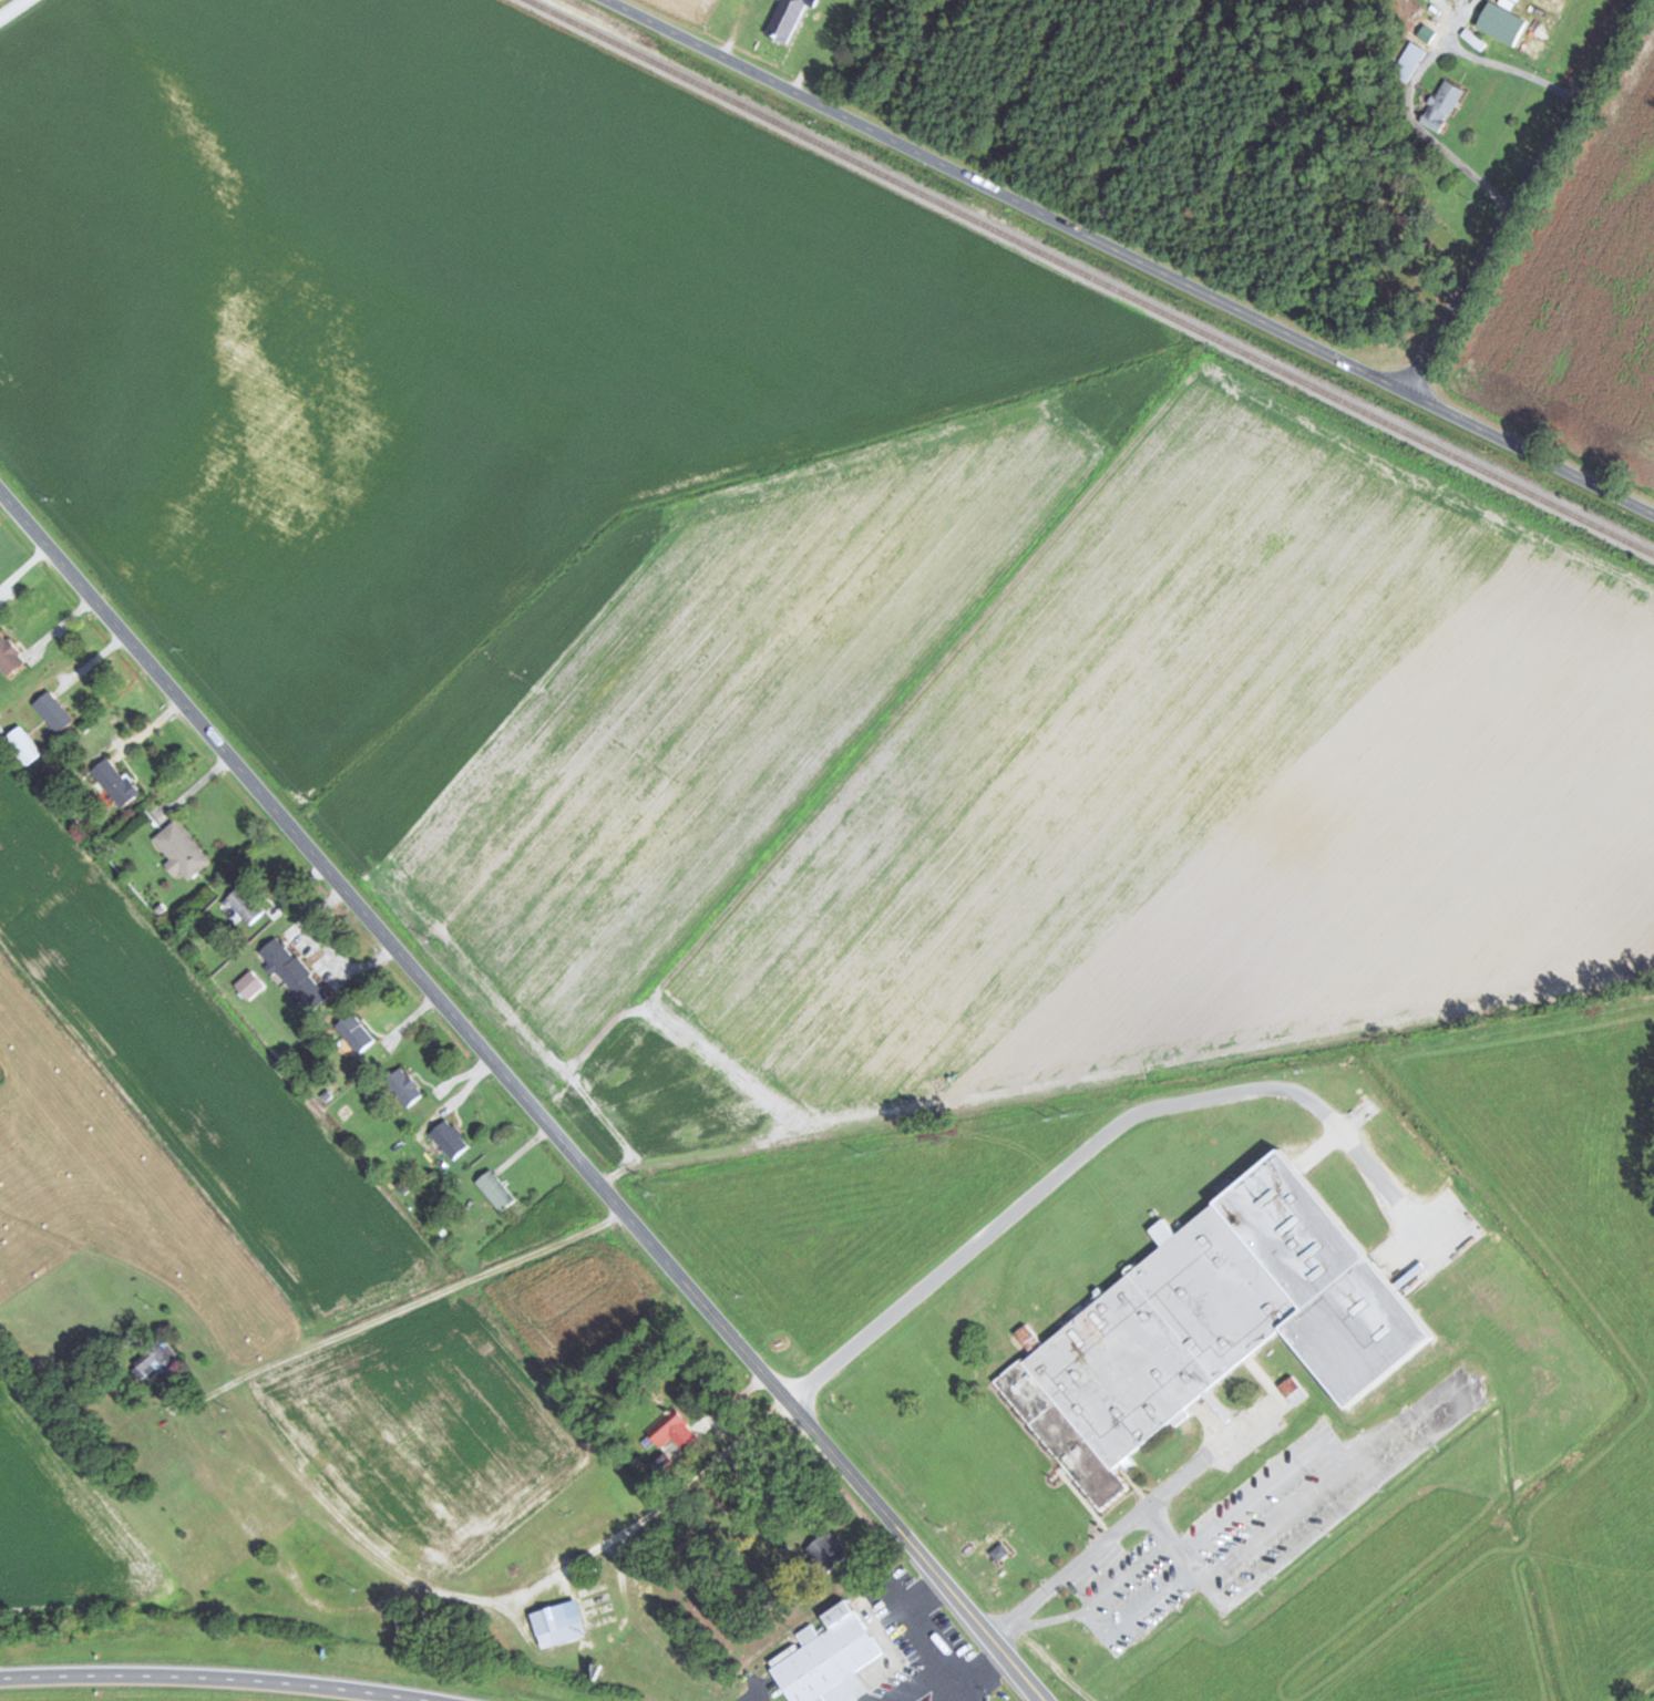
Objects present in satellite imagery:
building: (1465, 0)
road: (13, 10)
building: (787, 20)
building: (1516, 24)
building: (1442, 105)
road: (1525, 197)
road: (1126, 259)
railway: (1091, 277)
building: (9, 654)
building: (54, 711)
building: (25, 744)
building: (115, 782)
building: (182, 850)
building: (244, 905)
building: (294, 975)
building: (250, 983)
building: (356, 1031)
building: (404, 1086)
road: (524, 1097)
building: (450, 1138)
building: (496, 1189)
building: (1215, 1322)
building: (160, 1357)
wastewater plant: (1147, 1361)
building: (672, 1427)
road: (604, 1452)
building: (825, 1551)
building: (561, 1622)
building: (829, 1660)
road: (48, 1676)
road: (265, 1680)

